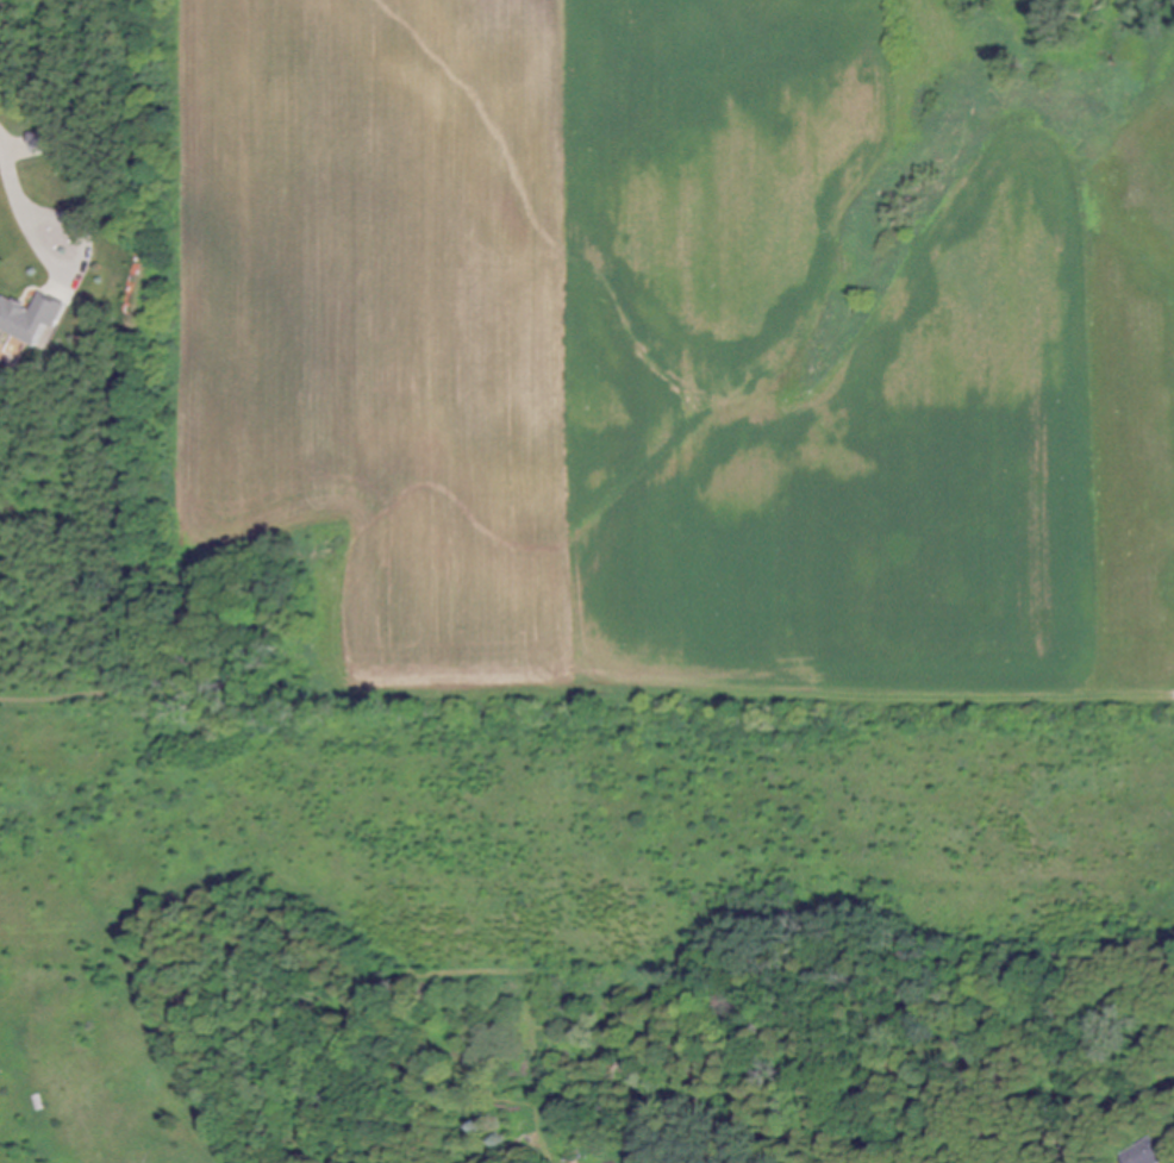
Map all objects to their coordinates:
building: (45, 143)
road: (11, 167)
road: (88, 262)
building: (33, 320)
building: (1148, 1153)

